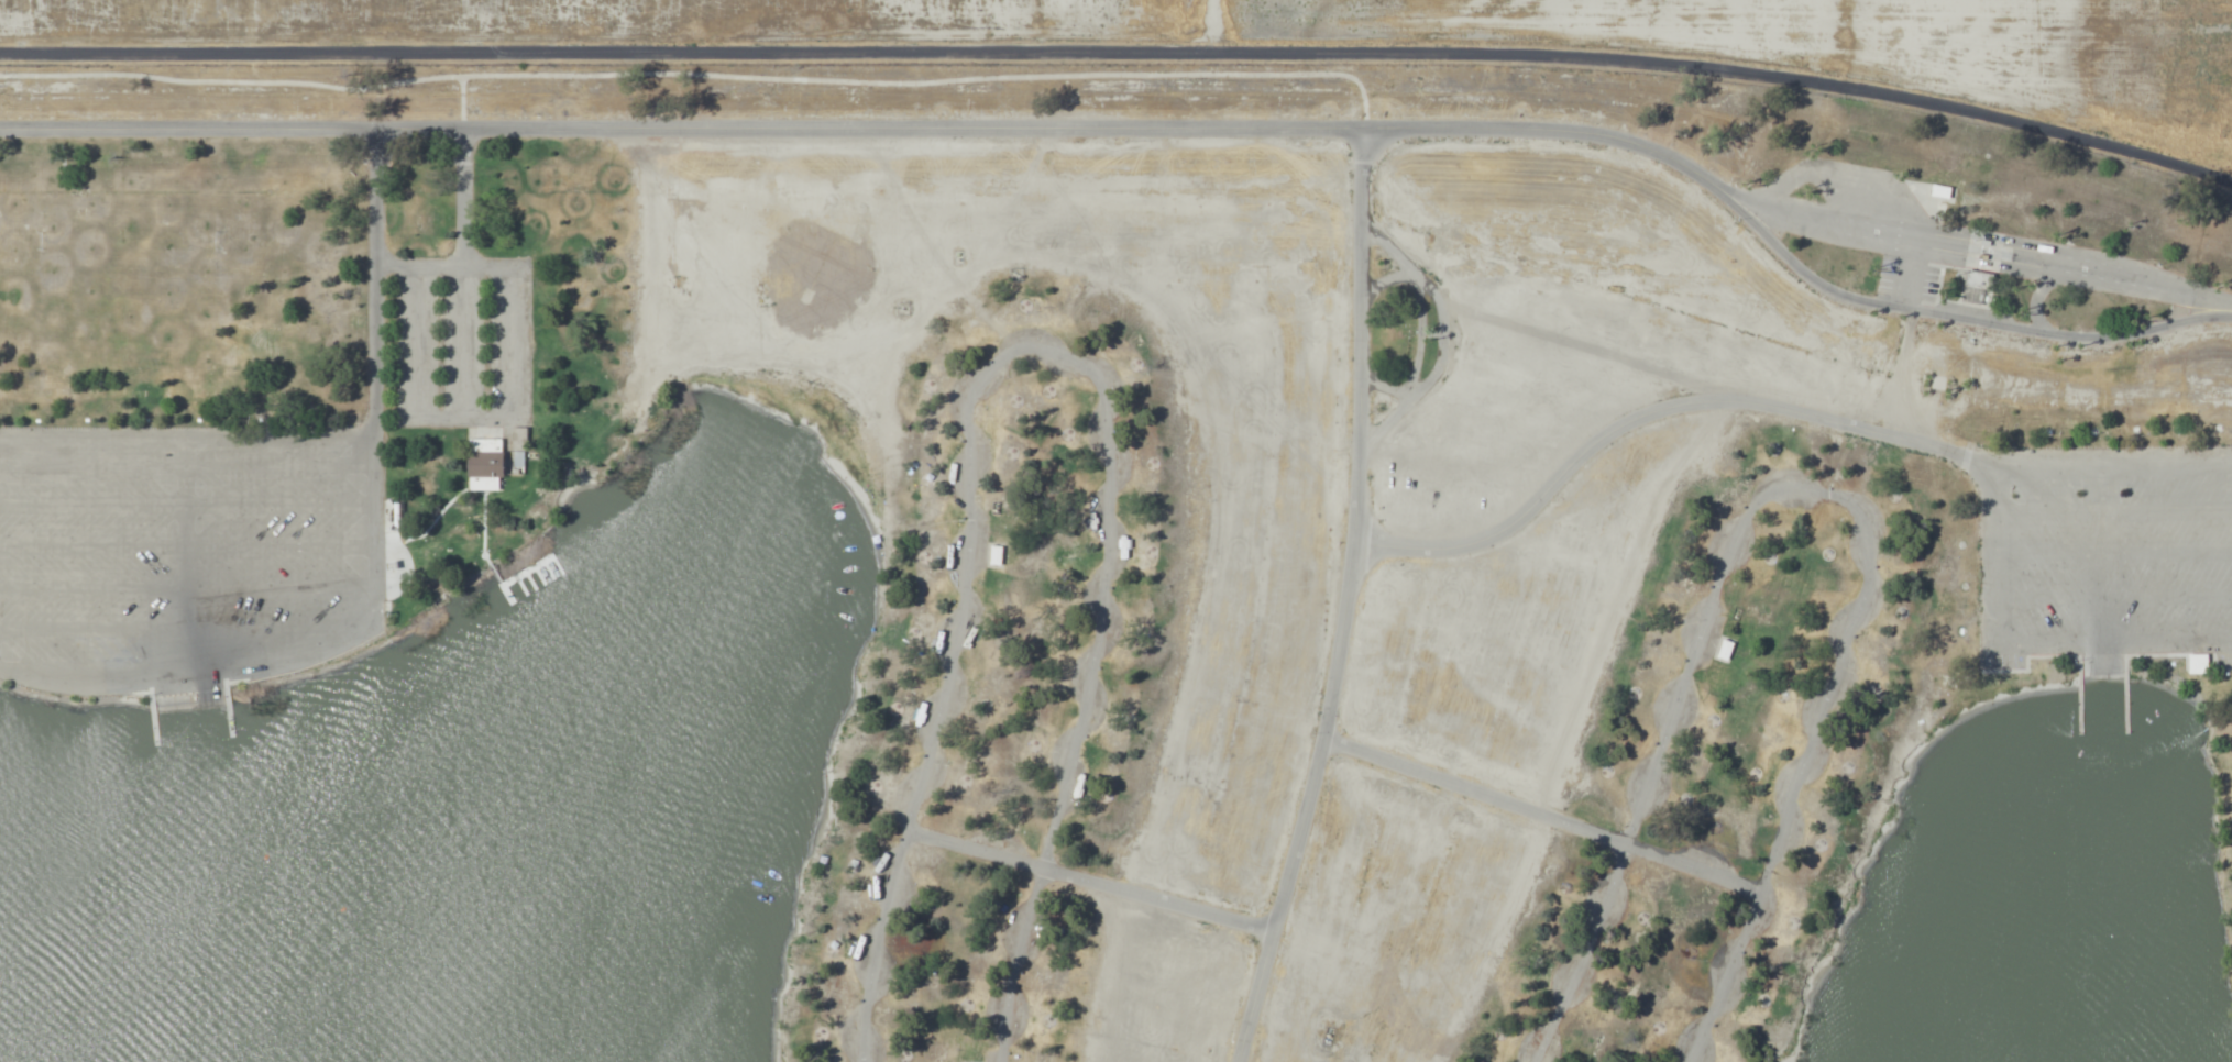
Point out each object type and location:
road: (1122, 51)
road: (1129, 124)
building: (1943, 193)
road: (464, 195)
road: (394, 263)
road: (464, 265)
building: (1980, 280)
road: (372, 294)
road: (1971, 307)
road: (418, 341)
road: (463, 341)
road: (512, 341)
parking lot: (458, 343)
road: (1021, 411)
road: (464, 416)
building: (494, 460)
road: (187, 462)
road: (1821, 494)
road: (186, 531)
road: (375, 541)
road: (187, 546)
parking lot: (186, 556)
building: (996, 556)
road: (1341, 598)
road: (92, 627)
building: (1724, 650)
building: (2198, 663)
road: (1473, 795)
road: (1694, 864)
road: (1093, 888)
road: (1573, 952)
road: (1729, 974)

